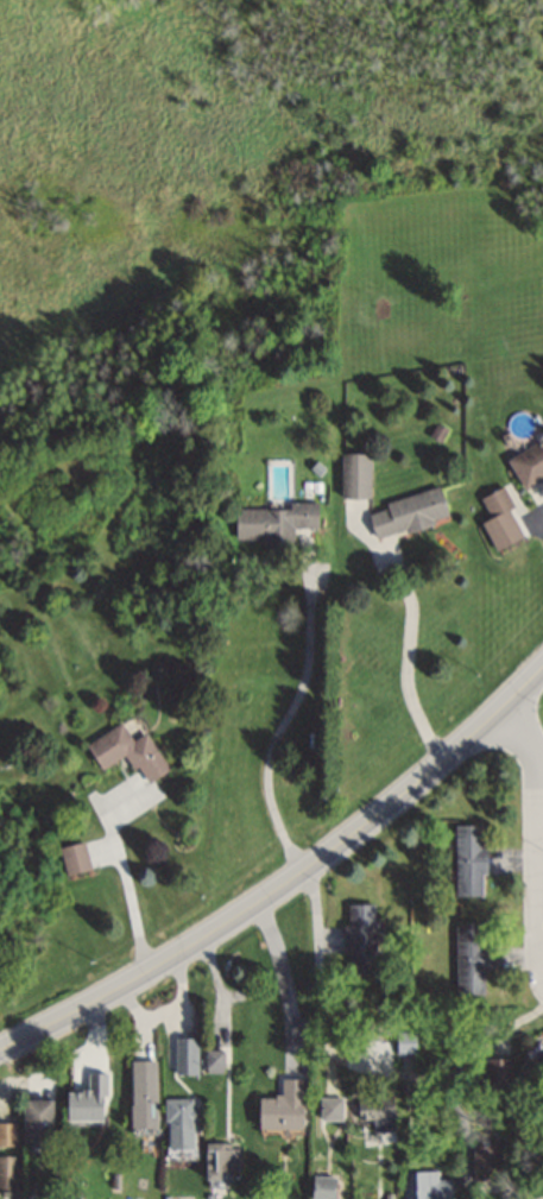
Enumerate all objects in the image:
building: (526, 463)
building: (353, 475)
building: (405, 513)
building: (498, 519)
building: (273, 524)
road: (411, 658)
road: (286, 725)
building: (125, 752)
road: (539, 833)
building: (71, 858)
building: (466, 859)
road: (288, 879)
road: (479, 884)
road: (134, 904)
building: (358, 939)
building: (467, 959)
road: (220, 1017)
building: (367, 1029)
building: (402, 1042)
road: (334, 1054)
building: (183, 1056)
building: (210, 1061)
building: (492, 1071)
building: (525, 1074)
building: (39, 1081)
building: (140, 1094)
building: (86, 1100)
building: (278, 1108)
building: (327, 1109)
building: (372, 1109)
building: (176, 1117)
building: (33, 1121)
building: (539, 1135)
building: (216, 1161)
building: (484, 1162)
building: (7, 1173)
building: (424, 1186)
building: (320, 1187)

